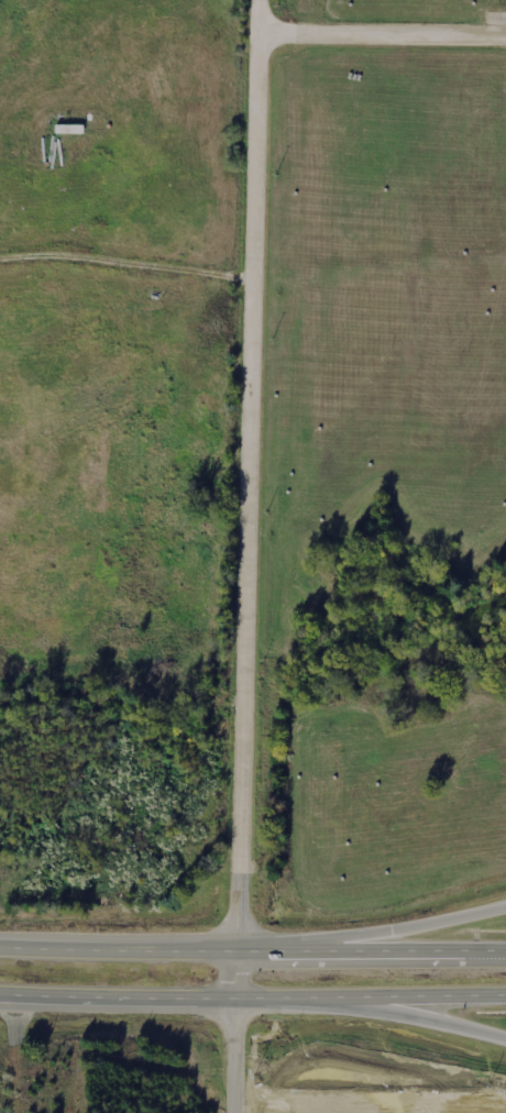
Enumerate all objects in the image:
road: (382, 30)
road: (243, 555)
road: (413, 927)
road: (159, 950)
road: (413, 950)
road: (418, 996)
road: (164, 999)
road: (418, 1018)
road: (370, 1104)

